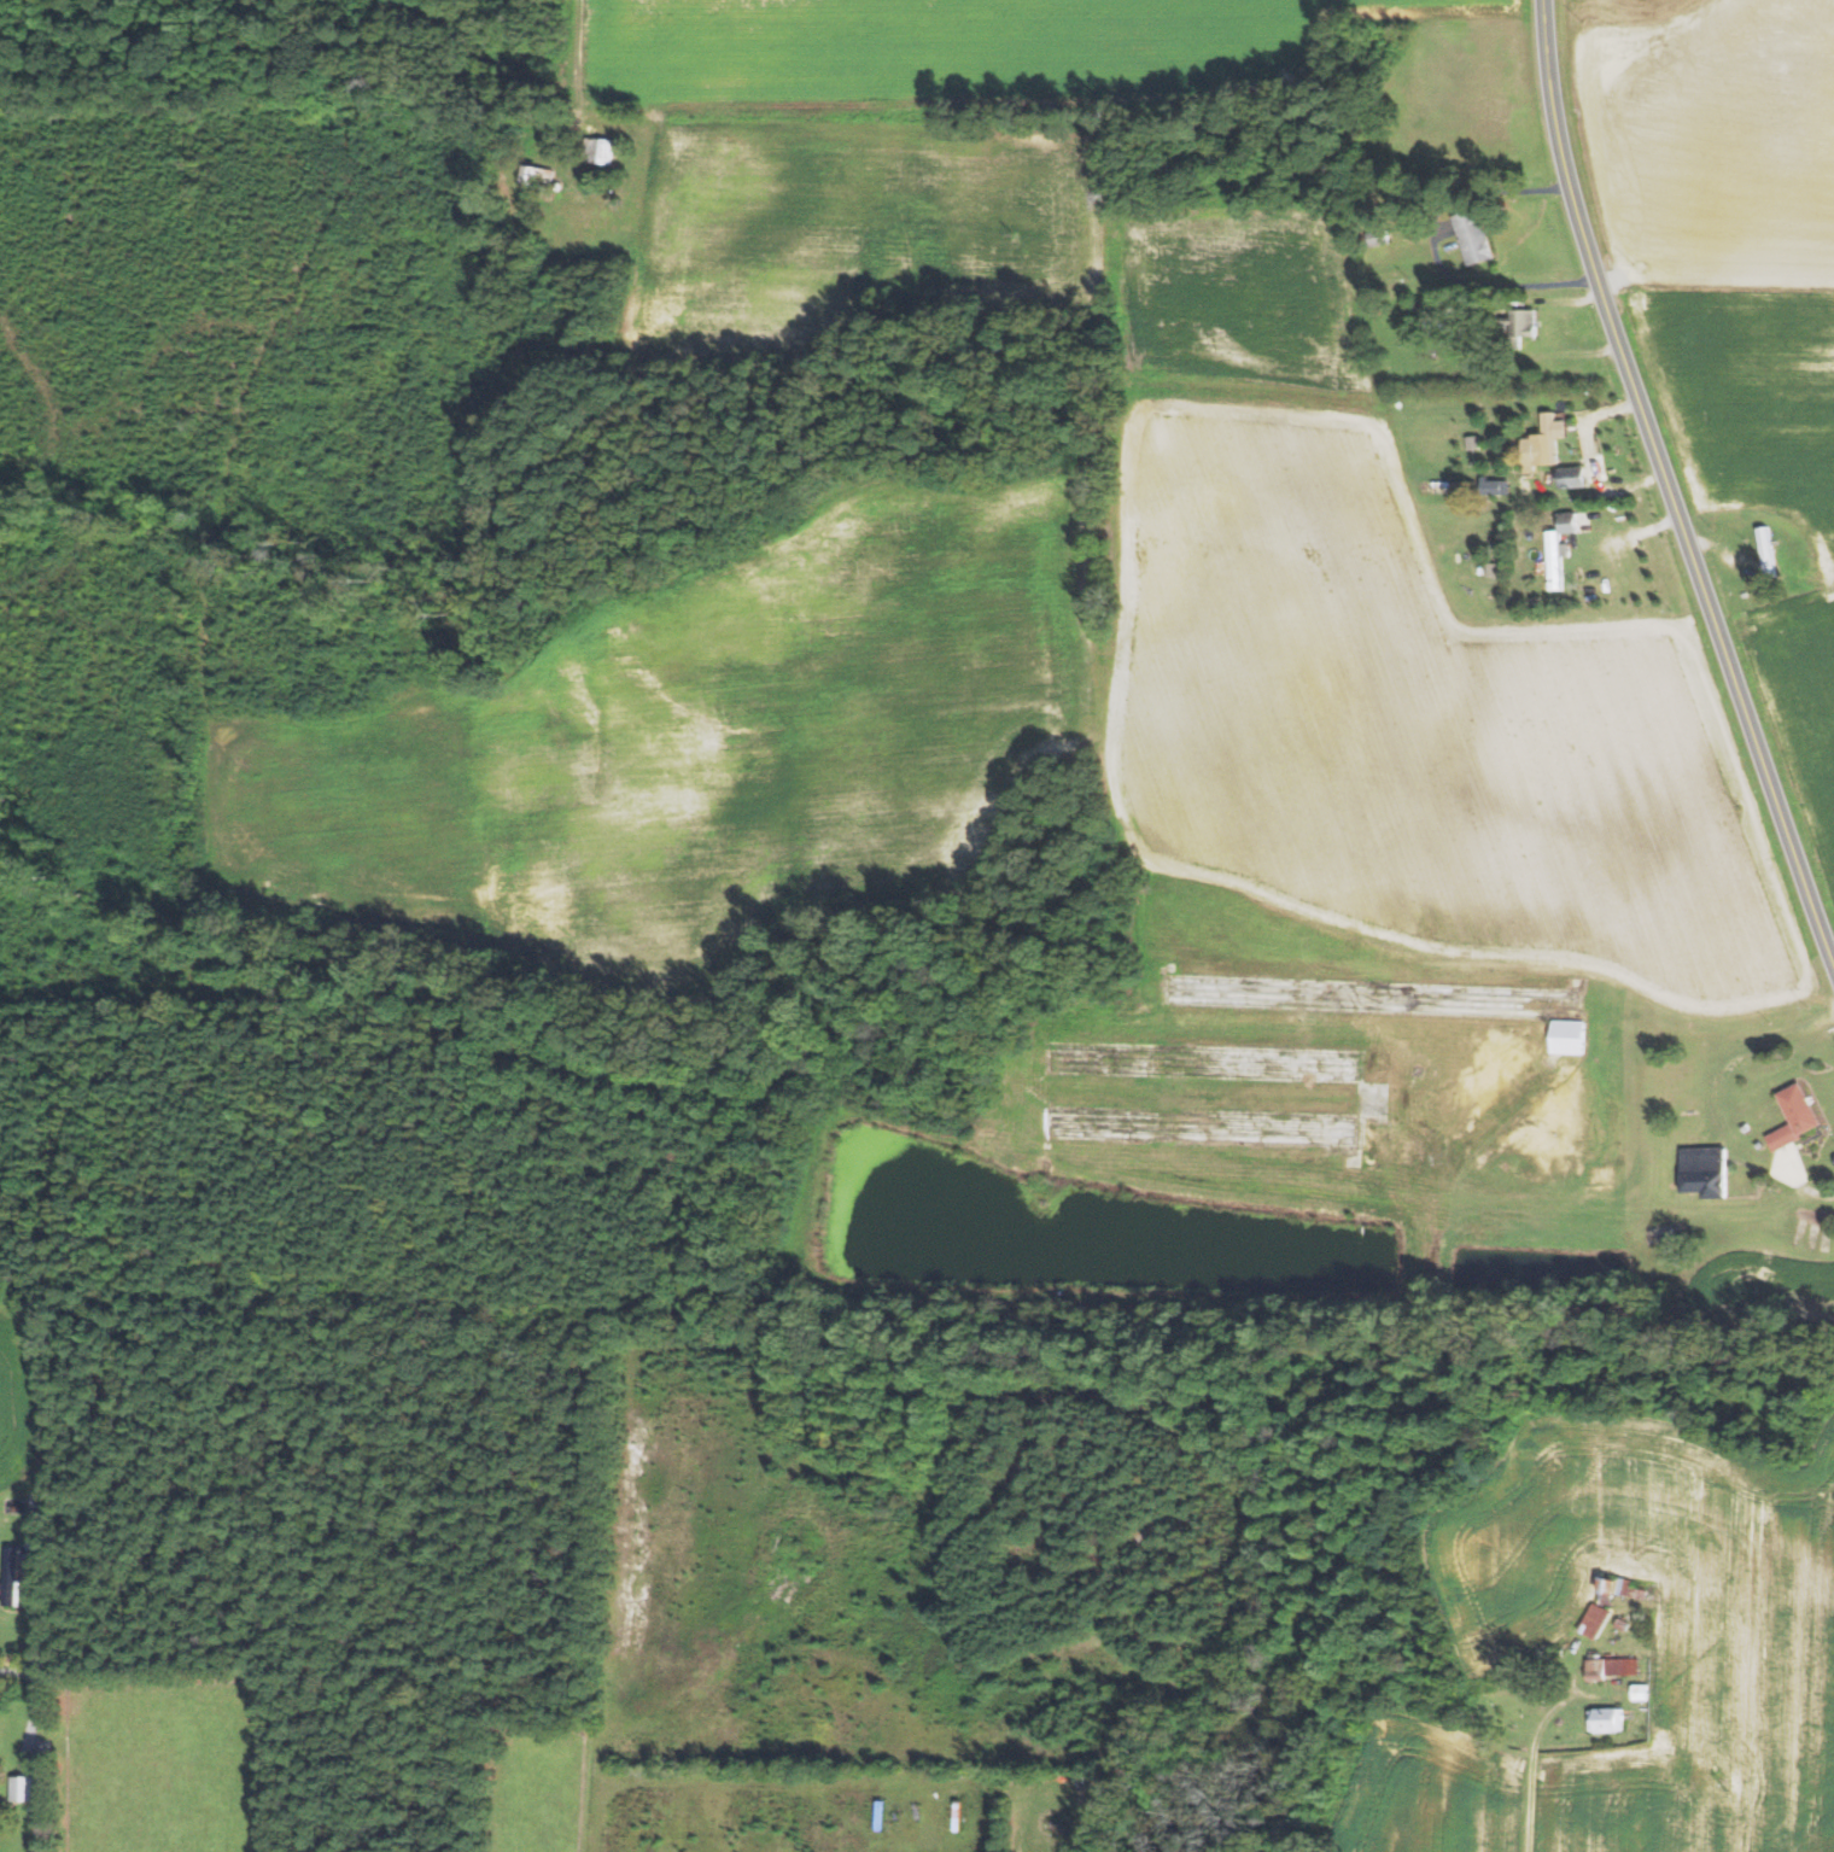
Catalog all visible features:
building: (602, 150)
building: (538, 179)
building: (1474, 235)
road: (1501, 284)
building: (1549, 439)
building: (1575, 477)
road: (1666, 490)
building: (1570, 521)
building: (1556, 559)
building: (1569, 1036)
building: (1797, 1116)
building: (1706, 1170)
building: (13, 1576)
building: (1605, 1585)
building: (1620, 1585)
building: (1637, 1593)
building: (1593, 1620)
crop: (1664, 1623)
building: (1619, 1624)
building: (1608, 1667)
road: (173, 1682)
building: (1639, 1692)
building: (1604, 1719)
road: (1532, 1760)
building: (24, 1787)
crop: (1436, 1792)
road: (597, 1811)

